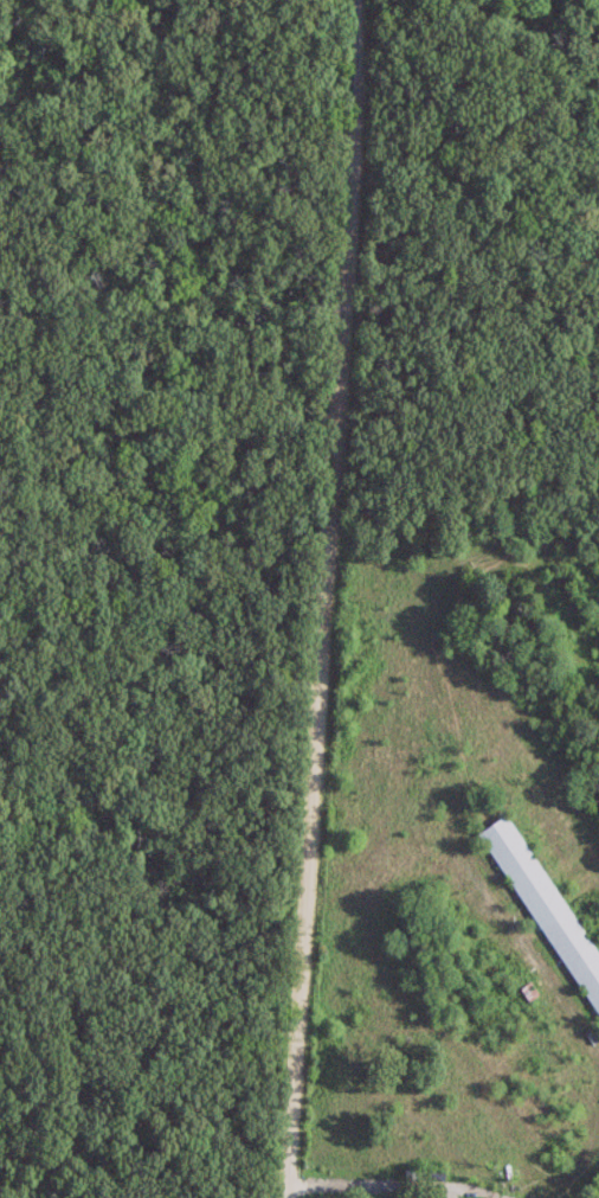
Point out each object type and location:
road: (323, 598)
building: (543, 912)

